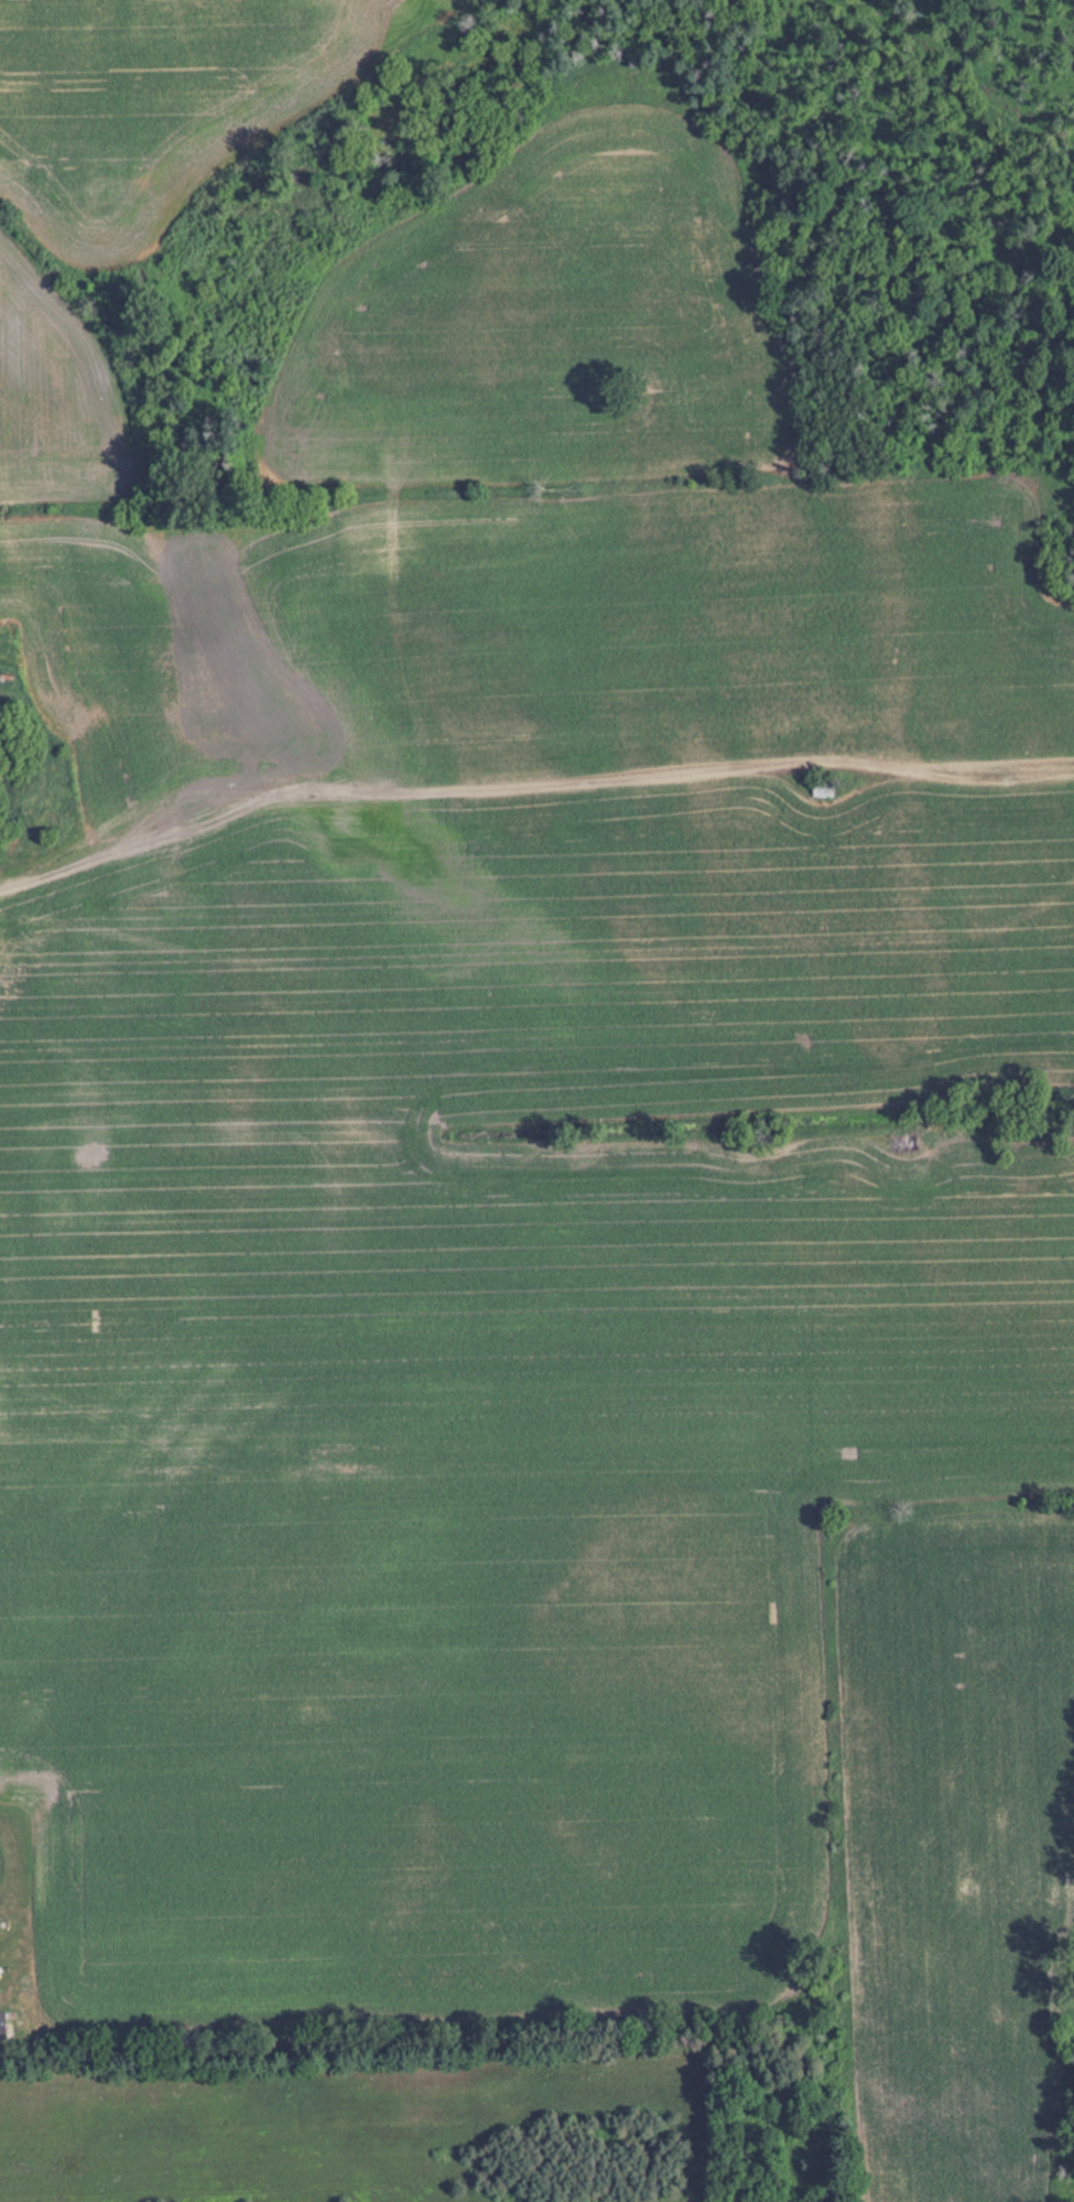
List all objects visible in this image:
building: (821, 788)
building: (2, 2025)

